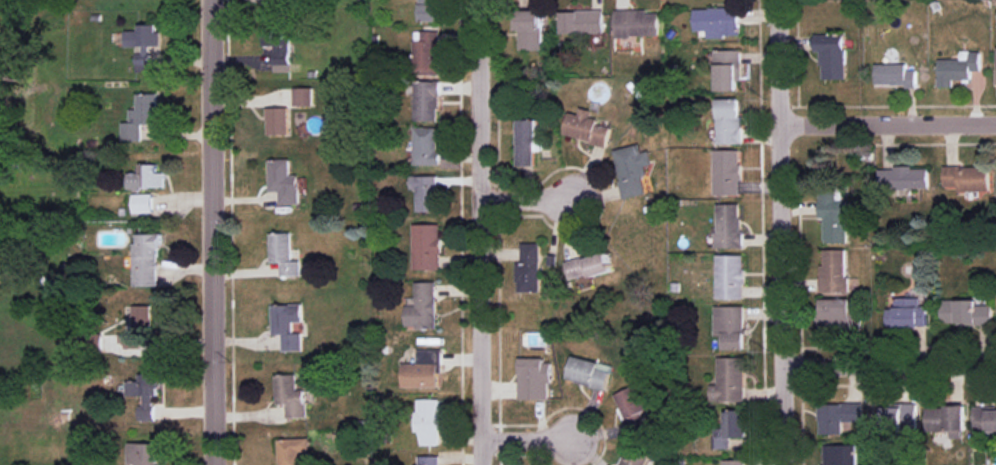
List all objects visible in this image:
building: (429, 10)
building: (717, 21)
building: (581, 22)
building: (636, 23)
building: (529, 28)
building: (143, 36)
building: (277, 44)
building: (426, 52)
building: (831, 55)
building: (142, 60)
building: (958, 67)
building: (727, 69)
building: (894, 75)
building: (303, 96)
building: (424, 100)
building: (140, 116)
building: (277, 120)
building: (728, 121)
road: (888, 123)
building: (586, 127)
building: (527, 141)
building: (425, 146)
building: (632, 169)
building: (727, 172)
building: (146, 177)
building: (967, 177)
building: (903, 178)
building: (283, 181)
building: (425, 193)
road: (527, 202)
building: (142, 203)
building: (833, 216)
building: (728, 225)
road: (211, 232)
road: (480, 232)
road: (781, 232)
building: (426, 247)
building: (283, 253)
building: (145, 260)
building: (589, 265)
building: (529, 268)
building: (833, 271)
building: (729, 276)
building: (422, 307)
building: (966, 312)
building: (907, 313)
building: (287, 325)
building: (730, 326)
building: (138, 327)
road: (890, 362)
building: (423, 370)
building: (589, 372)
building: (534, 378)
building: (729, 380)
building: (145, 394)
building: (290, 396)
building: (633, 409)
building: (838, 416)
building: (899, 417)
building: (946, 418)
building: (985, 419)
building: (428, 421)
building: (730, 429)
road: (530, 443)
building: (291, 450)
building: (143, 453)
building: (840, 454)
building: (636, 457)
building: (428, 460)
building: (734, 462)

